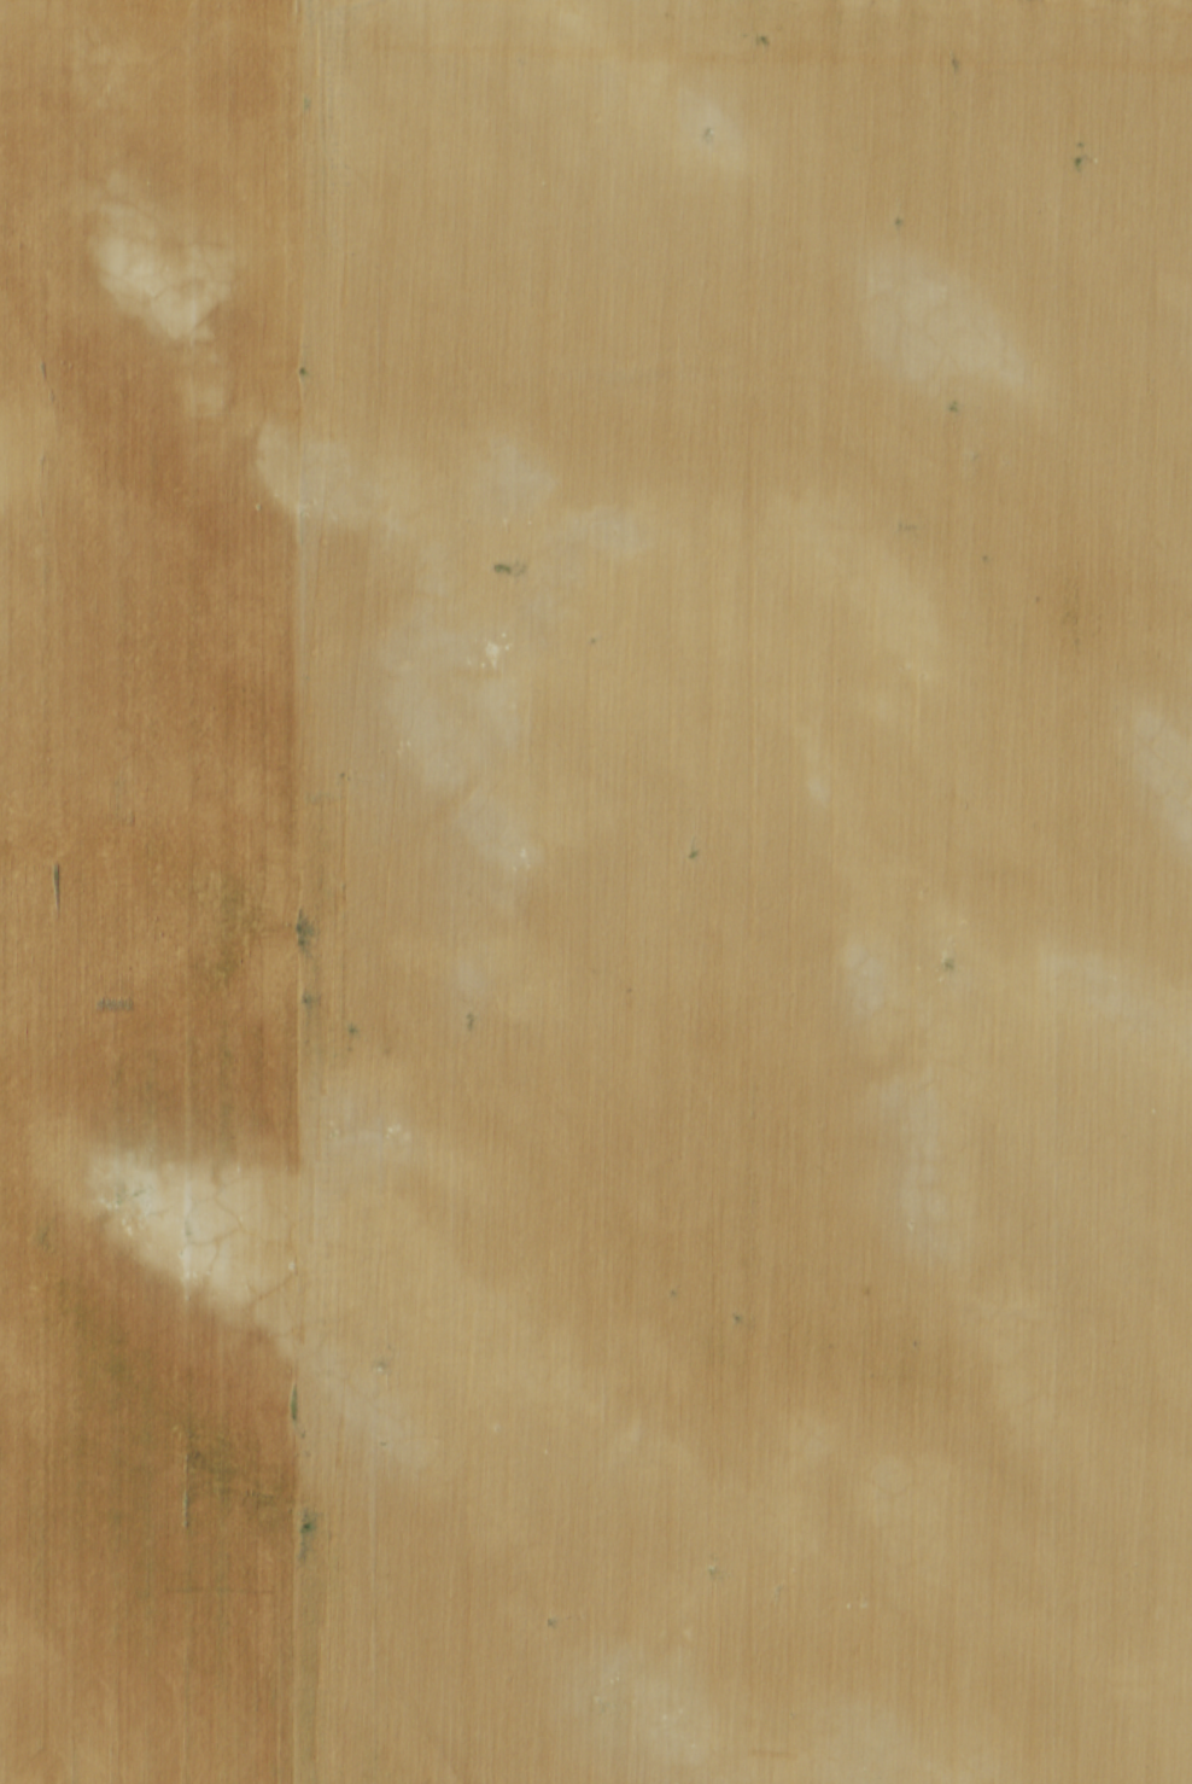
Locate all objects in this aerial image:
crop: (596, 892)

